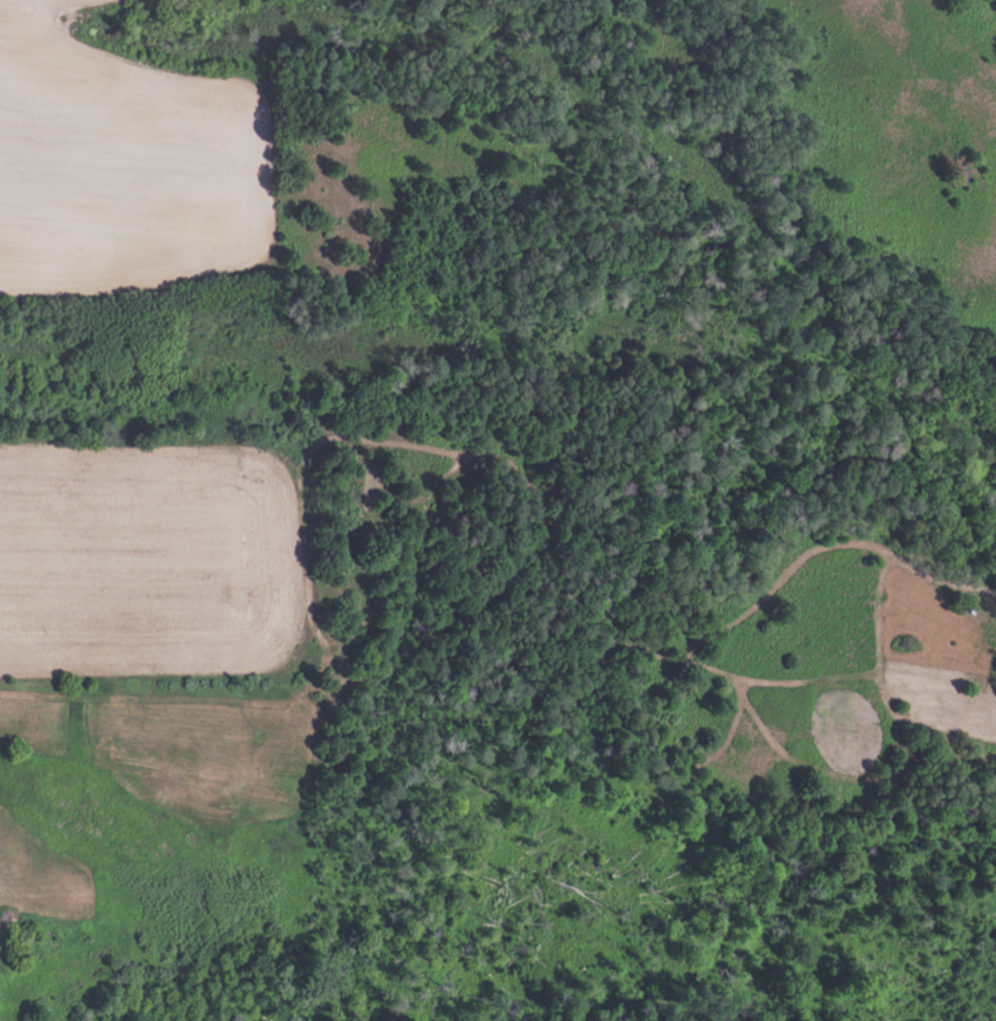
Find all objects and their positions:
building: (0, 929)

